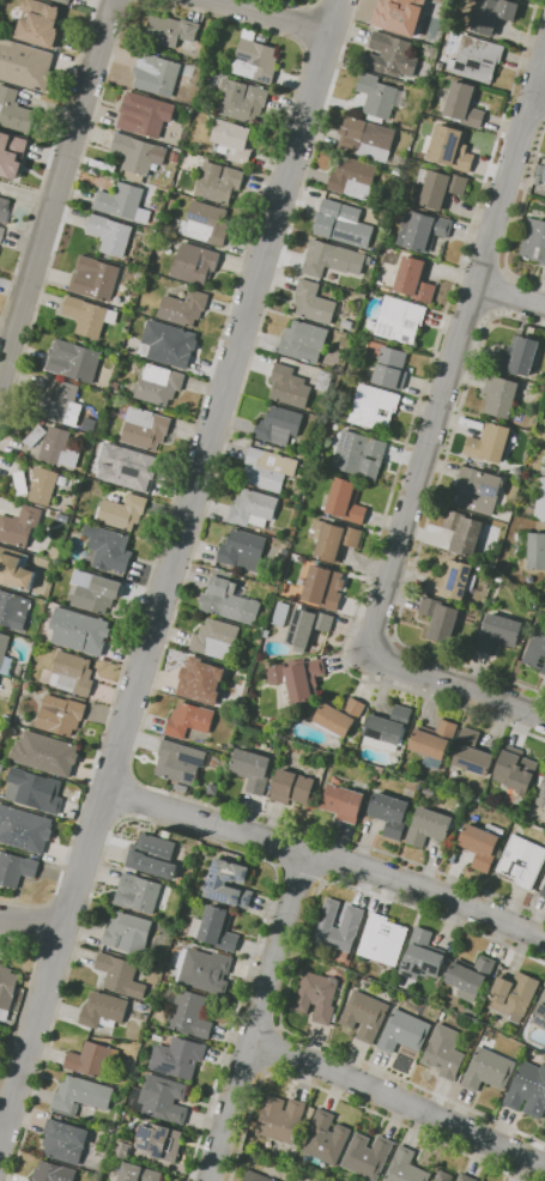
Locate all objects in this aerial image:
building: (63, 1)
road: (350, 1)
road: (299, 6)
building: (404, 13)
road: (273, 16)
building: (492, 16)
building: (40, 23)
road: (307, 25)
building: (171, 30)
building: (207, 43)
building: (392, 55)
building: (255, 57)
building: (476, 59)
road: (533, 62)
building: (25, 65)
road: (320, 67)
building: (157, 73)
road: (539, 92)
building: (377, 96)
building: (242, 99)
building: (462, 105)
road: (527, 107)
building: (14, 110)
building: (145, 114)
building: (235, 139)
building: (367, 139)
building: (450, 149)
building: (12, 153)
building: (139, 153)
building: (175, 157)
road: (48, 162)
building: (540, 174)
building: (353, 176)
building: (218, 182)
building: (440, 187)
road: (56, 188)
building: (123, 202)
building: (4, 208)
road: (65, 214)
road: (517, 218)
building: (206, 223)
building: (343, 224)
building: (0, 229)
building: (422, 230)
building: (110, 234)
building: (533, 241)
building: (332, 258)
building: (368, 259)
building: (194, 264)
road: (484, 264)
building: (95, 278)
building: (414, 278)
road: (499, 292)
road: (509, 296)
building: (314, 303)
road: (471, 305)
building: (184, 307)
building: (89, 316)
building: (400, 319)
building: (347, 323)
building: (304, 341)
building: (169, 343)
building: (517, 356)
building: (74, 359)
building: (392, 368)
building: (325, 380)
building: (158, 384)
building: (290, 386)
building: (501, 395)
building: (55, 398)
building: (374, 407)
building: (279, 425)
building: (145, 428)
road: (193, 431)
building: (35, 435)
road: (408, 437)
road: (430, 438)
building: (490, 442)
building: (59, 448)
building: (359, 454)
building: (544, 462)
building: (127, 467)
building: (268, 468)
building: (20, 483)
building: (43, 485)
building: (479, 490)
building: (346, 501)
building: (540, 502)
building: (254, 508)
building: (122, 511)
building: (66, 517)
building: (19, 526)
road: (426, 527)
building: (464, 532)
building: (337, 540)
building: (108, 547)
building: (243, 550)
building: (537, 552)
building: (56, 553)
building: (480, 567)
building: (16, 568)
road: (170, 570)
building: (453, 580)
building: (325, 587)
building: (95, 592)
road: (180, 598)
building: (229, 599)
building: (13, 610)
building: (440, 619)
building: (308, 626)
building: (79, 630)
building: (499, 632)
building: (258, 635)
building: (214, 638)
building: (537, 649)
building: (5, 655)
building: (72, 673)
building: (298, 678)
building: (201, 679)
building: (60, 714)
building: (7, 716)
building: (339, 716)
building: (189, 720)
building: (387, 728)
building: (432, 743)
building: (472, 752)
building: (46, 753)
building: (180, 762)
building: (0, 765)
building: (252, 769)
building: (516, 769)
building: (181, 787)
building: (292, 787)
building: (31, 789)
building: (541, 789)
building: (429, 791)
road: (128, 798)
building: (343, 803)
building: (461, 806)
building: (390, 813)
building: (431, 826)
road: (174, 828)
building: (24, 829)
building: (165, 834)
building: (482, 844)
building: (153, 855)
road: (327, 858)
building: (522, 861)
building: (16, 868)
road: (297, 876)
building: (182, 880)
building: (218, 883)
building: (543, 891)
building: (138, 894)
building: (352, 917)
road: (30, 922)
road: (35, 923)
building: (216, 928)
building: (128, 933)
building: (382, 939)
building: (423, 956)
building: (205, 970)
building: (120, 974)
road: (290, 976)
building: (472, 976)
road: (26, 988)
building: (6, 989)
building: (317, 995)
building: (514, 995)
building: (103, 1010)
building: (188, 1012)
building: (471, 1012)
building: (540, 1013)
road: (258, 1016)
building: (364, 1016)
building: (404, 1031)
road: (272, 1050)
building: (444, 1052)
building: (178, 1056)
building: (92, 1059)
building: (488, 1070)
building: (528, 1090)
building: (80, 1096)
building: (161, 1098)
road: (344, 1098)
road: (398, 1101)
building: (281, 1119)
building: (544, 1122)
road: (1, 1132)
building: (327, 1138)
building: (65, 1140)
building: (161, 1140)
building: (122, 1149)
building: (368, 1156)
building: (405, 1167)
building: (53, 1173)
building: (138, 1173)
building: (256, 1176)
building: (443, 1176)
building: (466, 1177)

